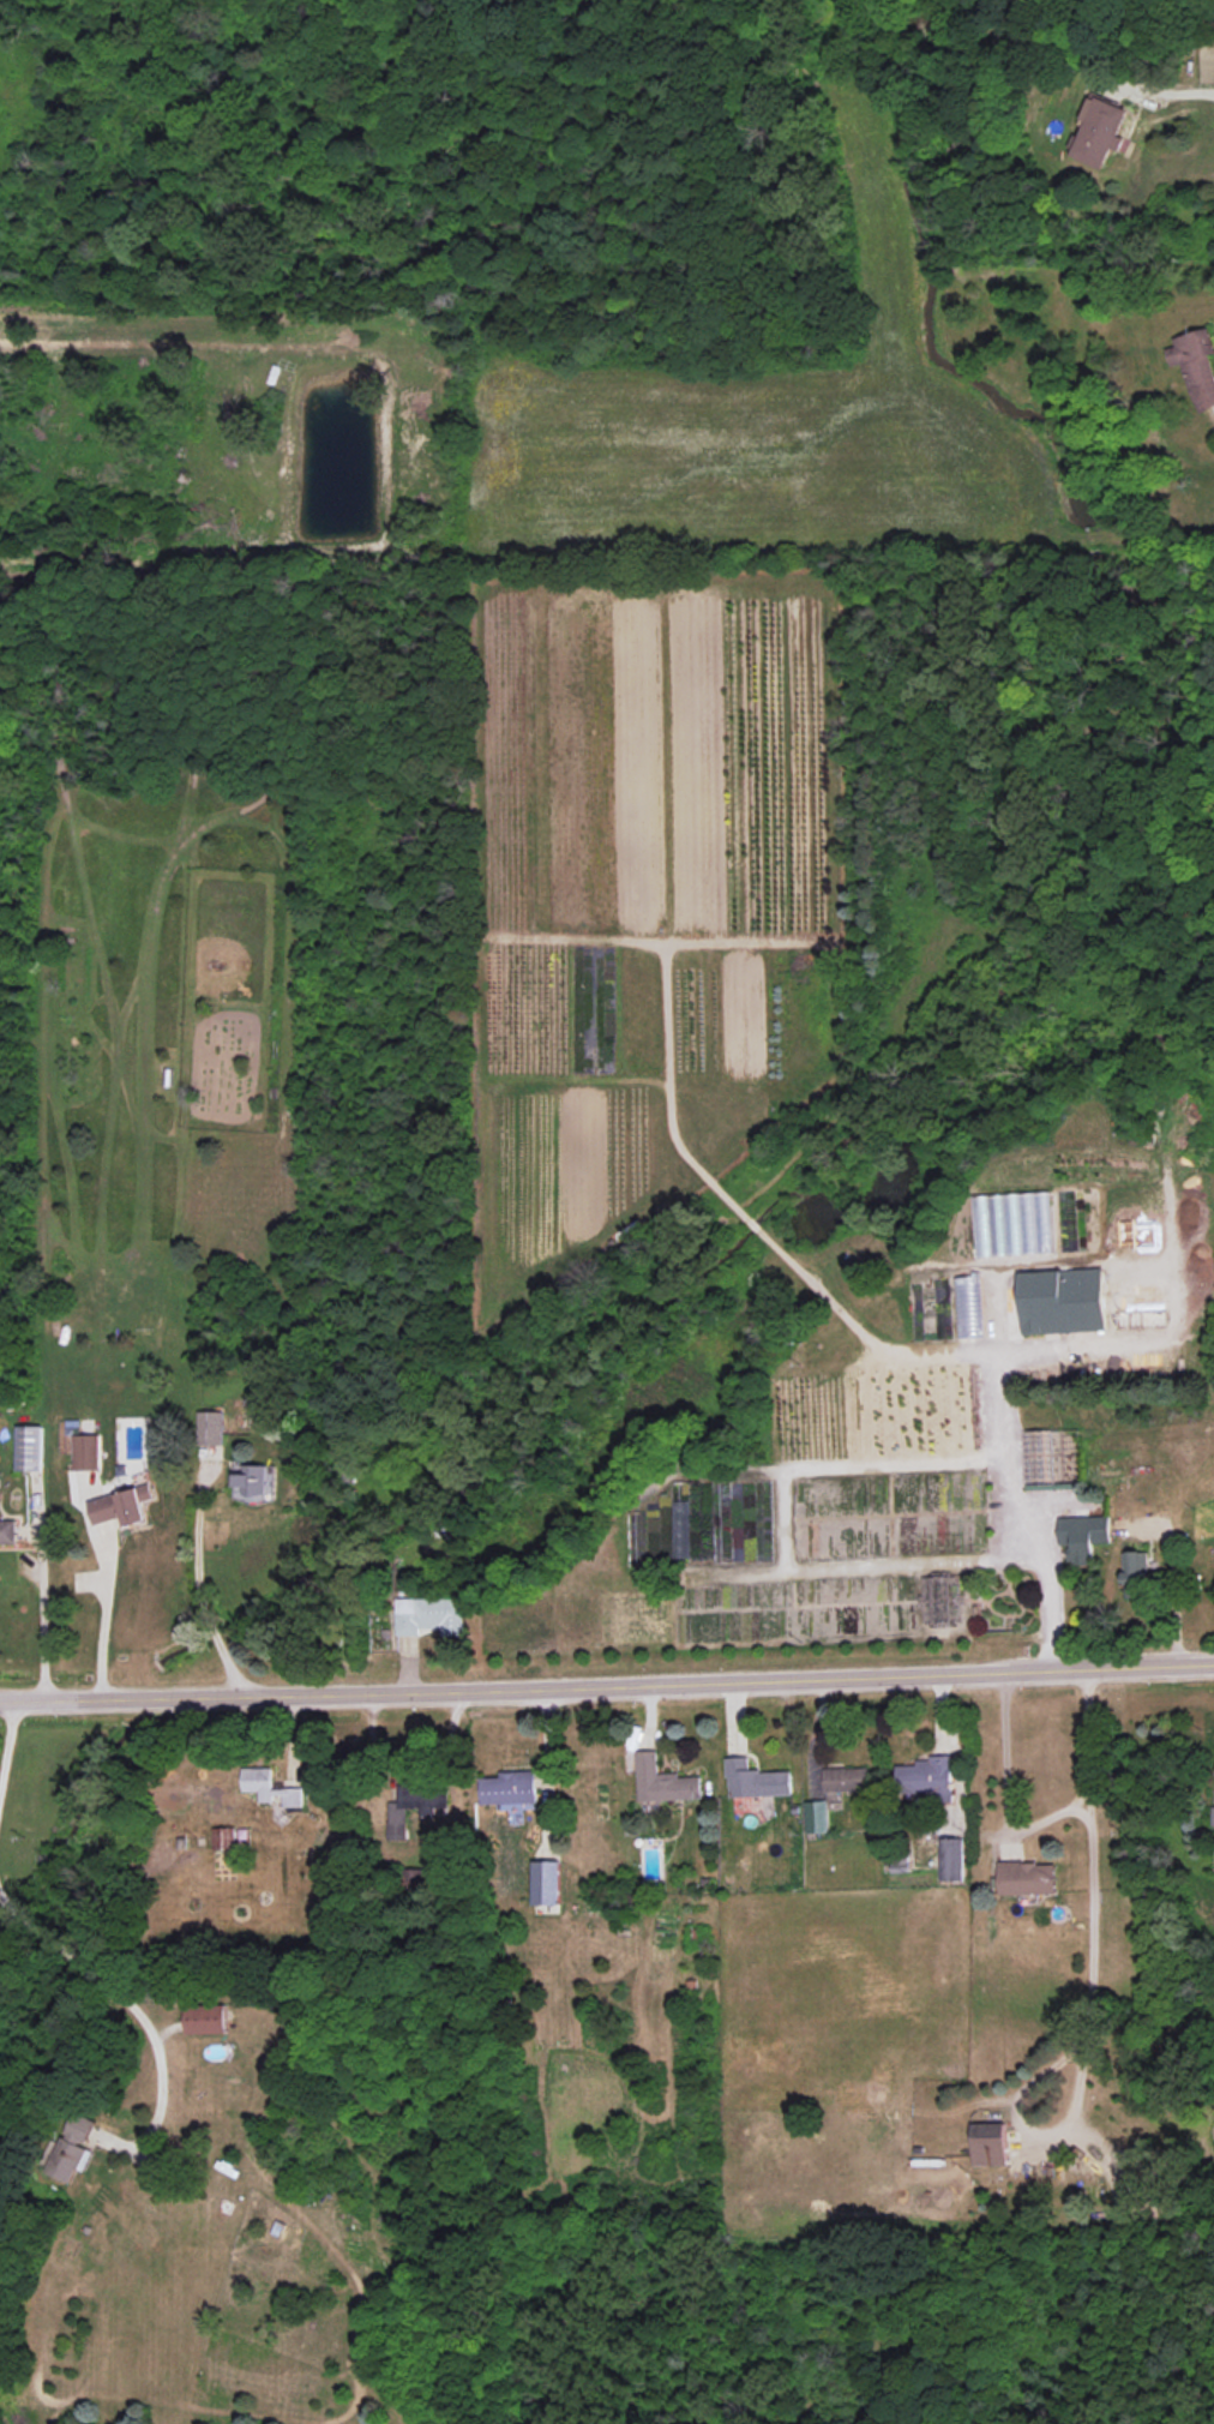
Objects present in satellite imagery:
road: (1188, 101)
building: (1099, 132)
building: (1196, 365)
building: (1016, 1222)
building: (1063, 1301)
building: (210, 1427)
building: (29, 1447)
building: (86, 1452)
building: (254, 1478)
road: (1010, 1486)
building: (124, 1506)
building: (7, 1531)
building: (1083, 1536)
building: (1136, 1573)
road: (199, 1586)
road: (1173, 1590)
road: (40, 1606)
building: (429, 1615)
road: (103, 1619)
road: (607, 1686)
road: (7, 1739)
road: (956, 1751)
building: (926, 1777)
building: (847, 1778)
building: (756, 1780)
building: (663, 1781)
building: (270, 1787)
building: (510, 1787)
road: (1008, 1790)
building: (416, 1805)
building: (1213, 1816)
building: (817, 1817)
building: (224, 1838)
building: (951, 1859)
building: (1028, 1878)
building: (546, 1882)
road: (1090, 1991)
road: (126, 1999)
building: (206, 2020)
building: (990, 2143)
building: (74, 2146)

